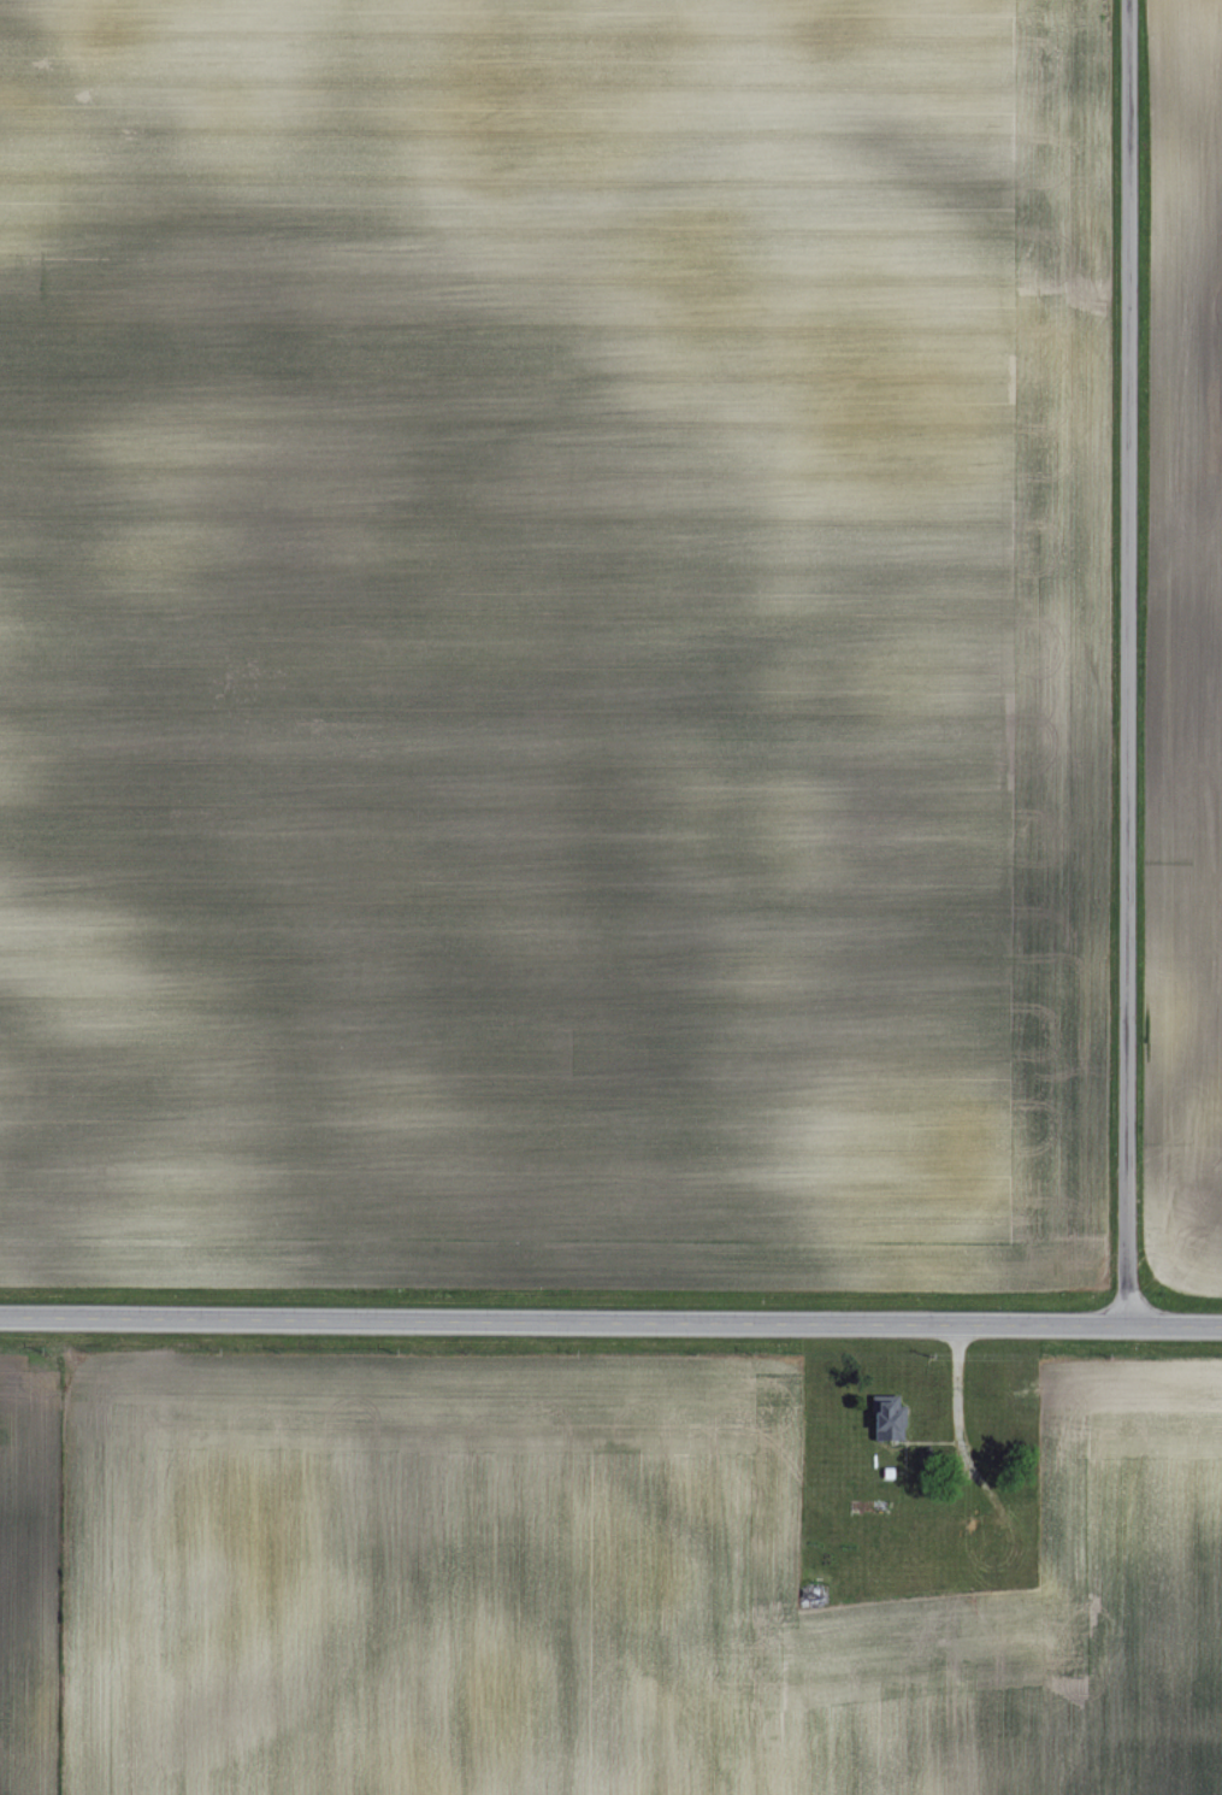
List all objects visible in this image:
road: (1121, 665)
road: (610, 1325)

